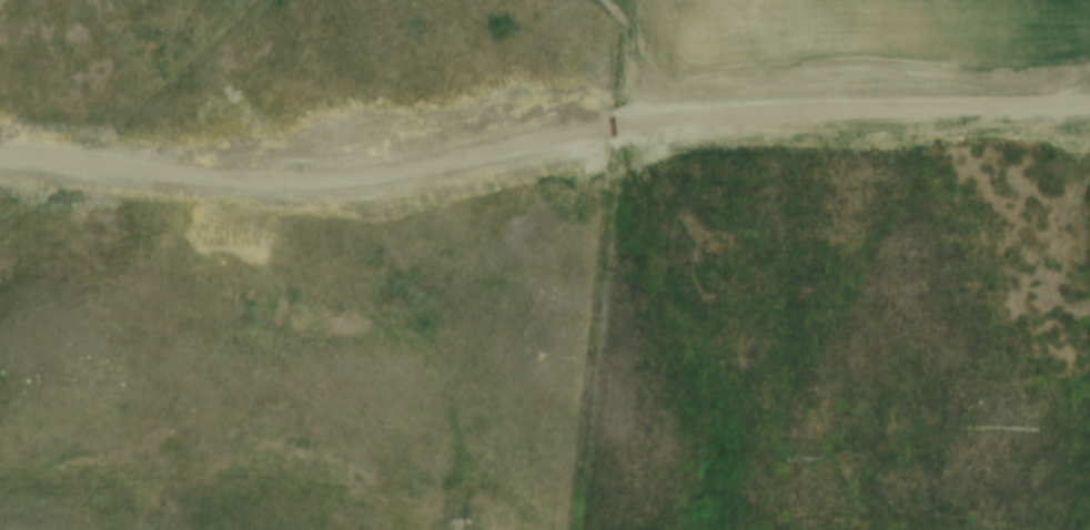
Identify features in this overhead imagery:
road: (545, 150)

